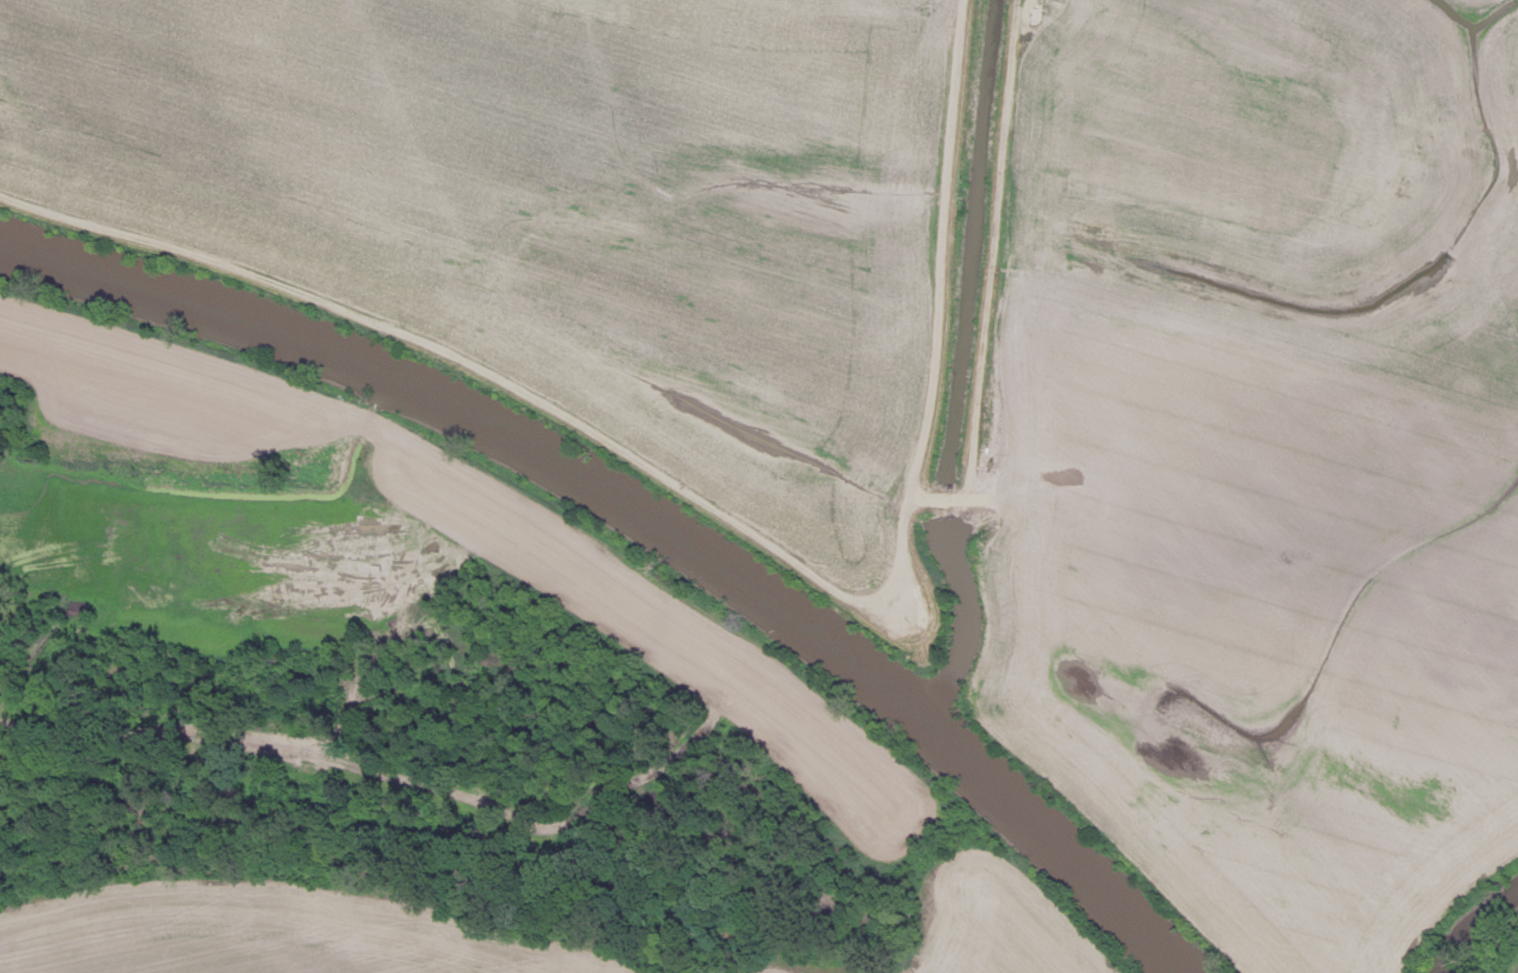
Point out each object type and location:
road: (921, 207)

